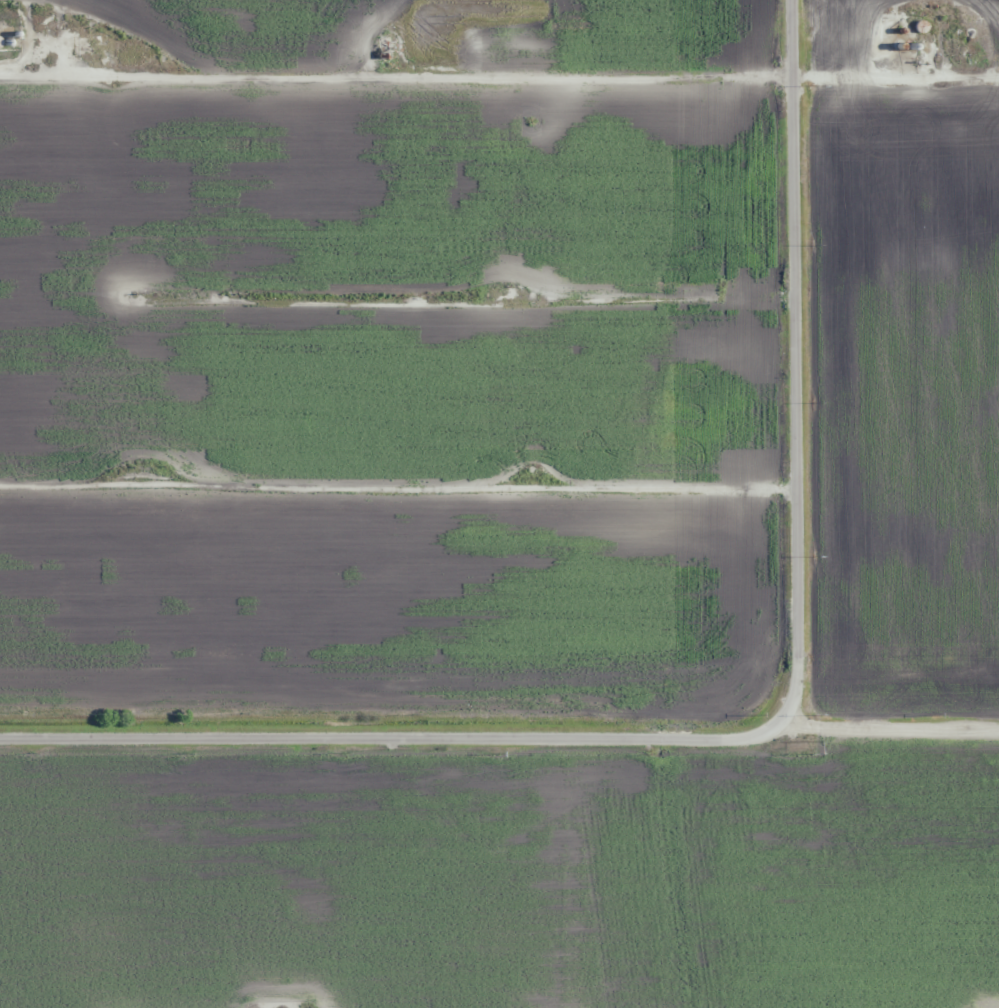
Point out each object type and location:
building: (383, 46)
road: (499, 75)
road: (808, 375)
road: (404, 480)
road: (501, 757)

